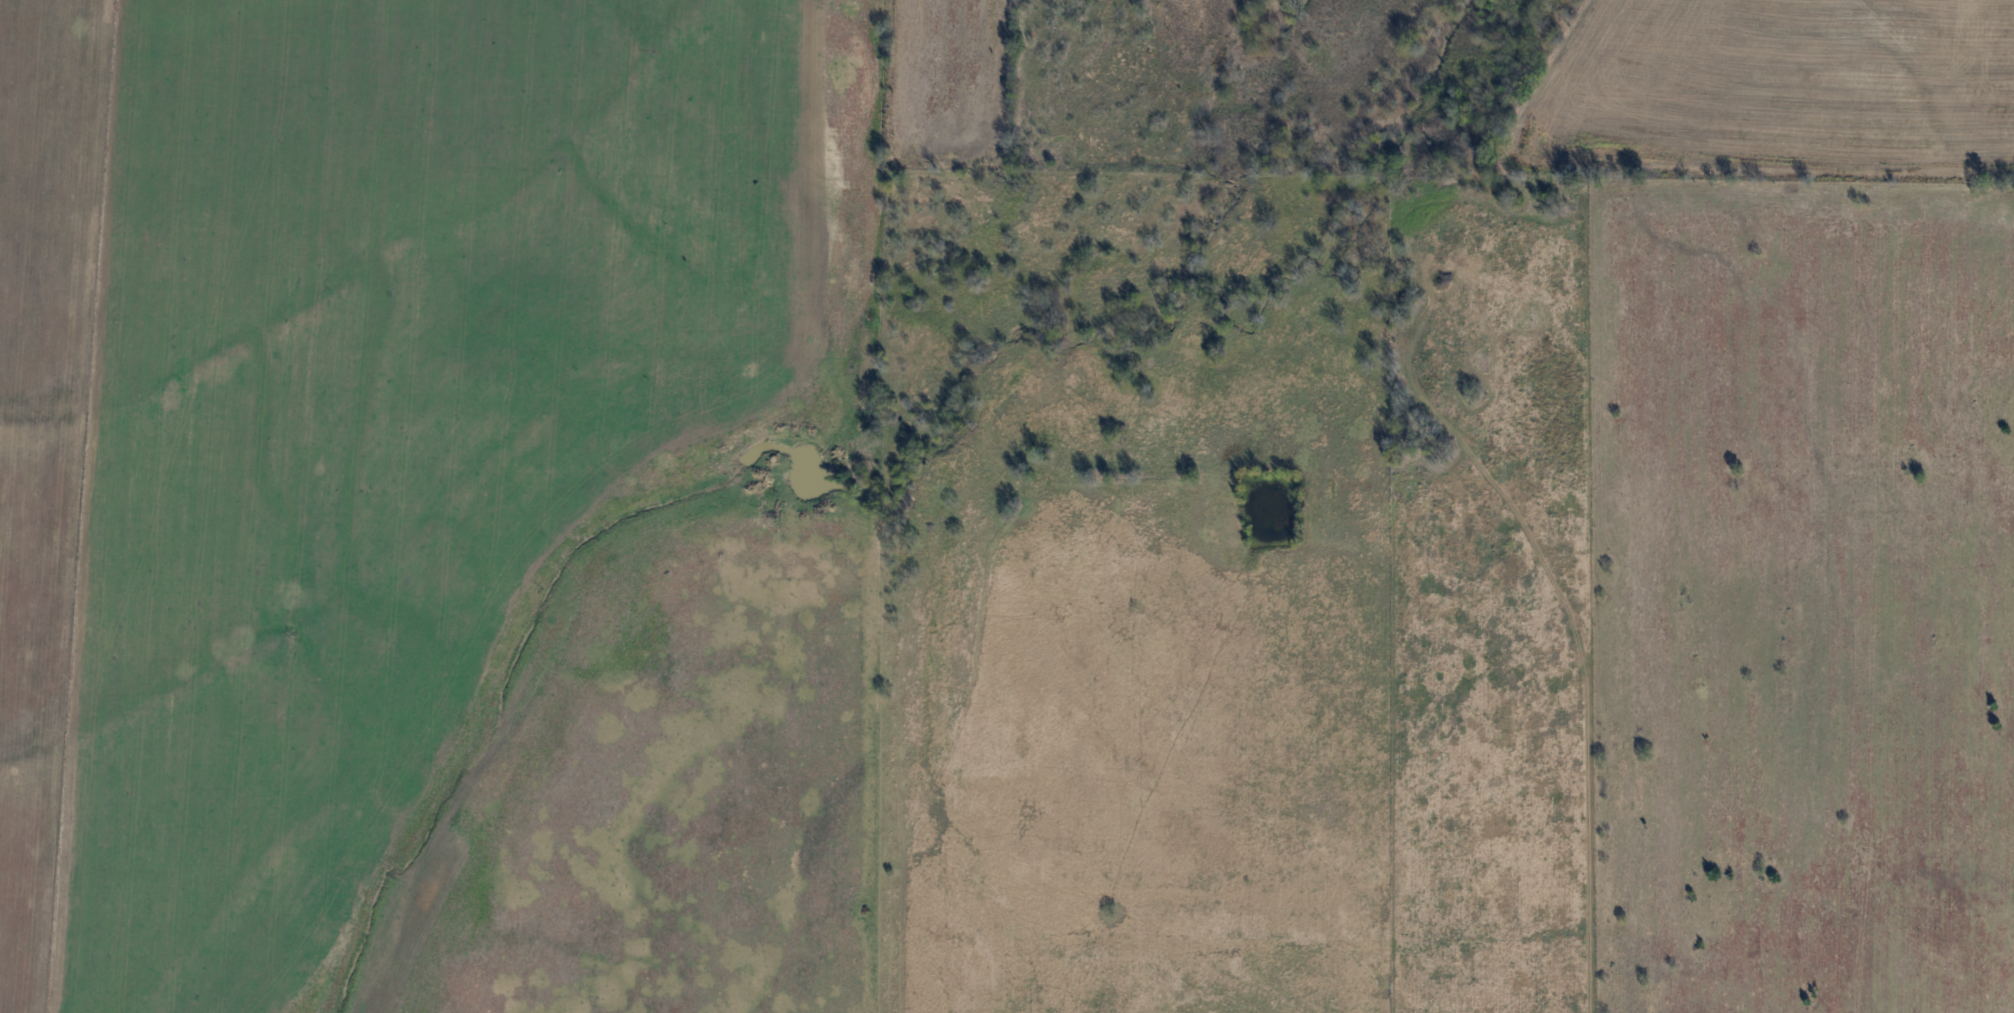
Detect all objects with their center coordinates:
airport runway: (1587, 614)

